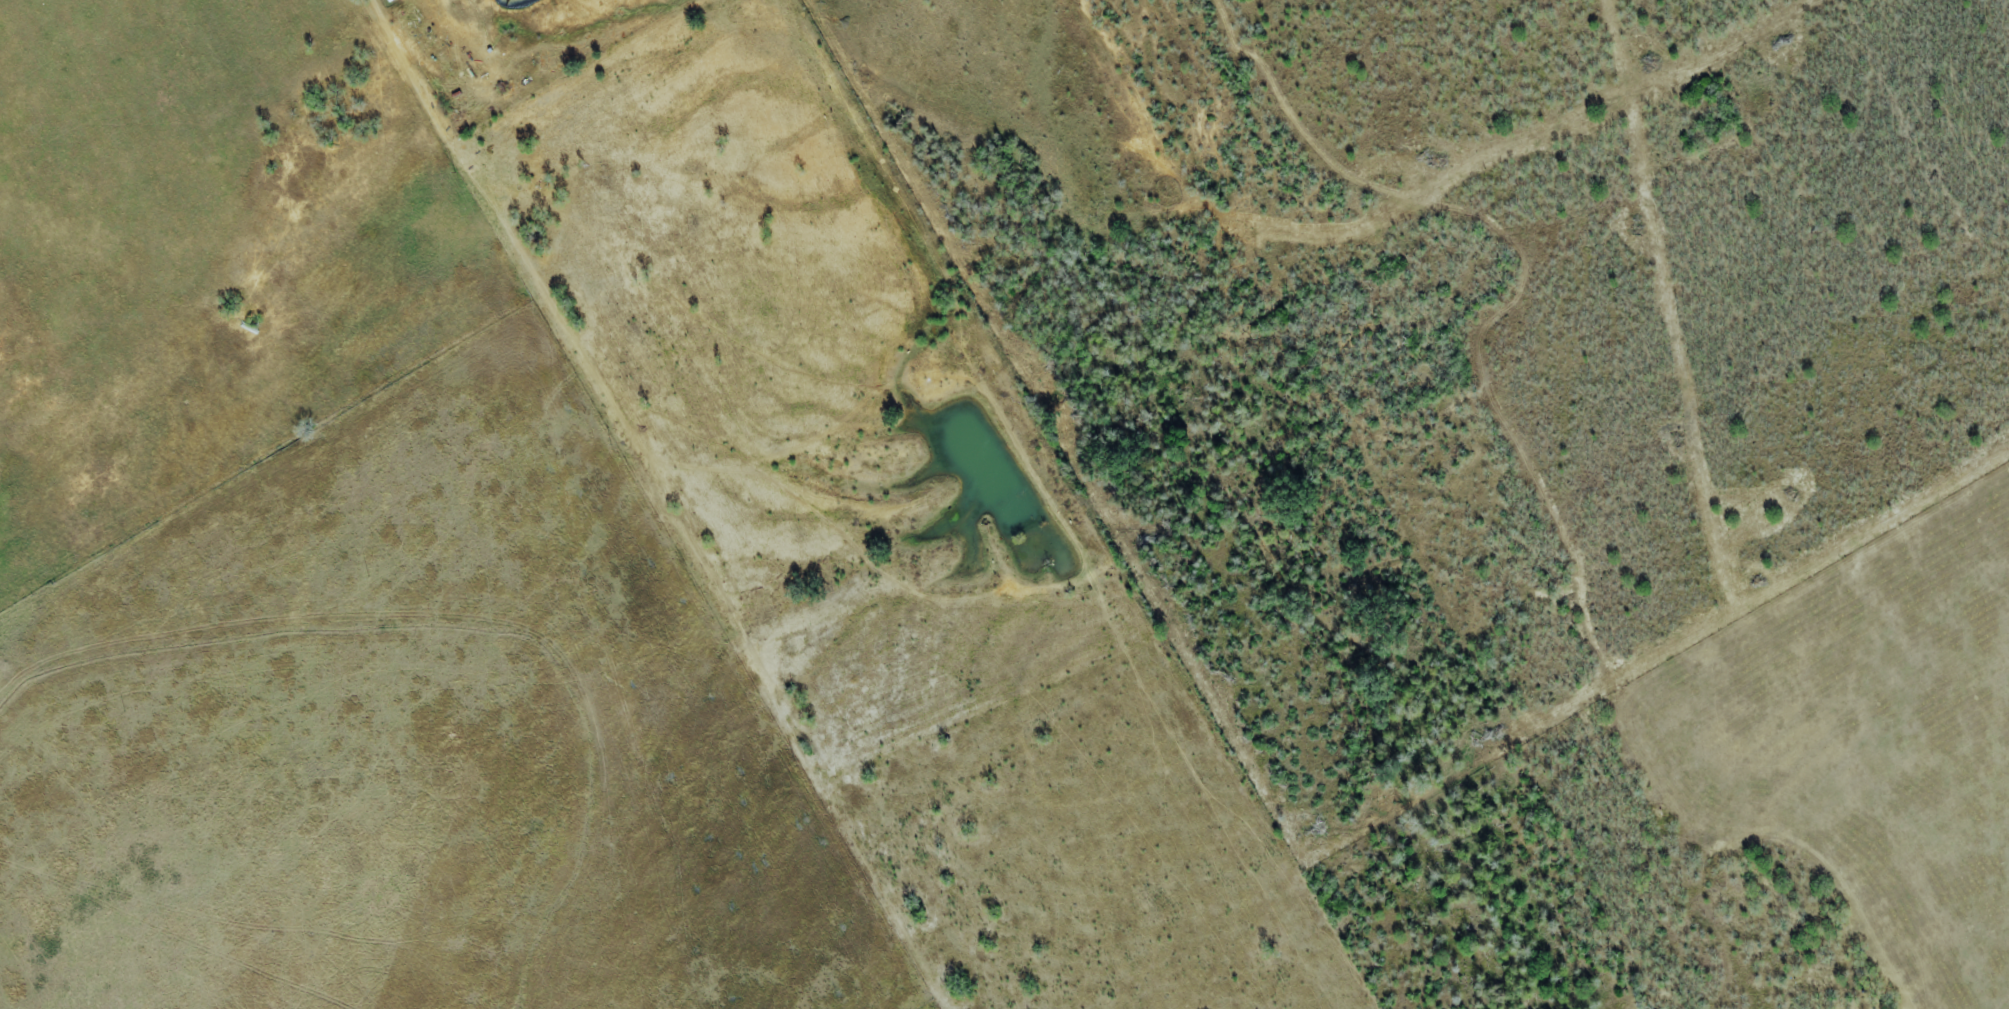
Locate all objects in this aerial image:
building: (389, 0)

